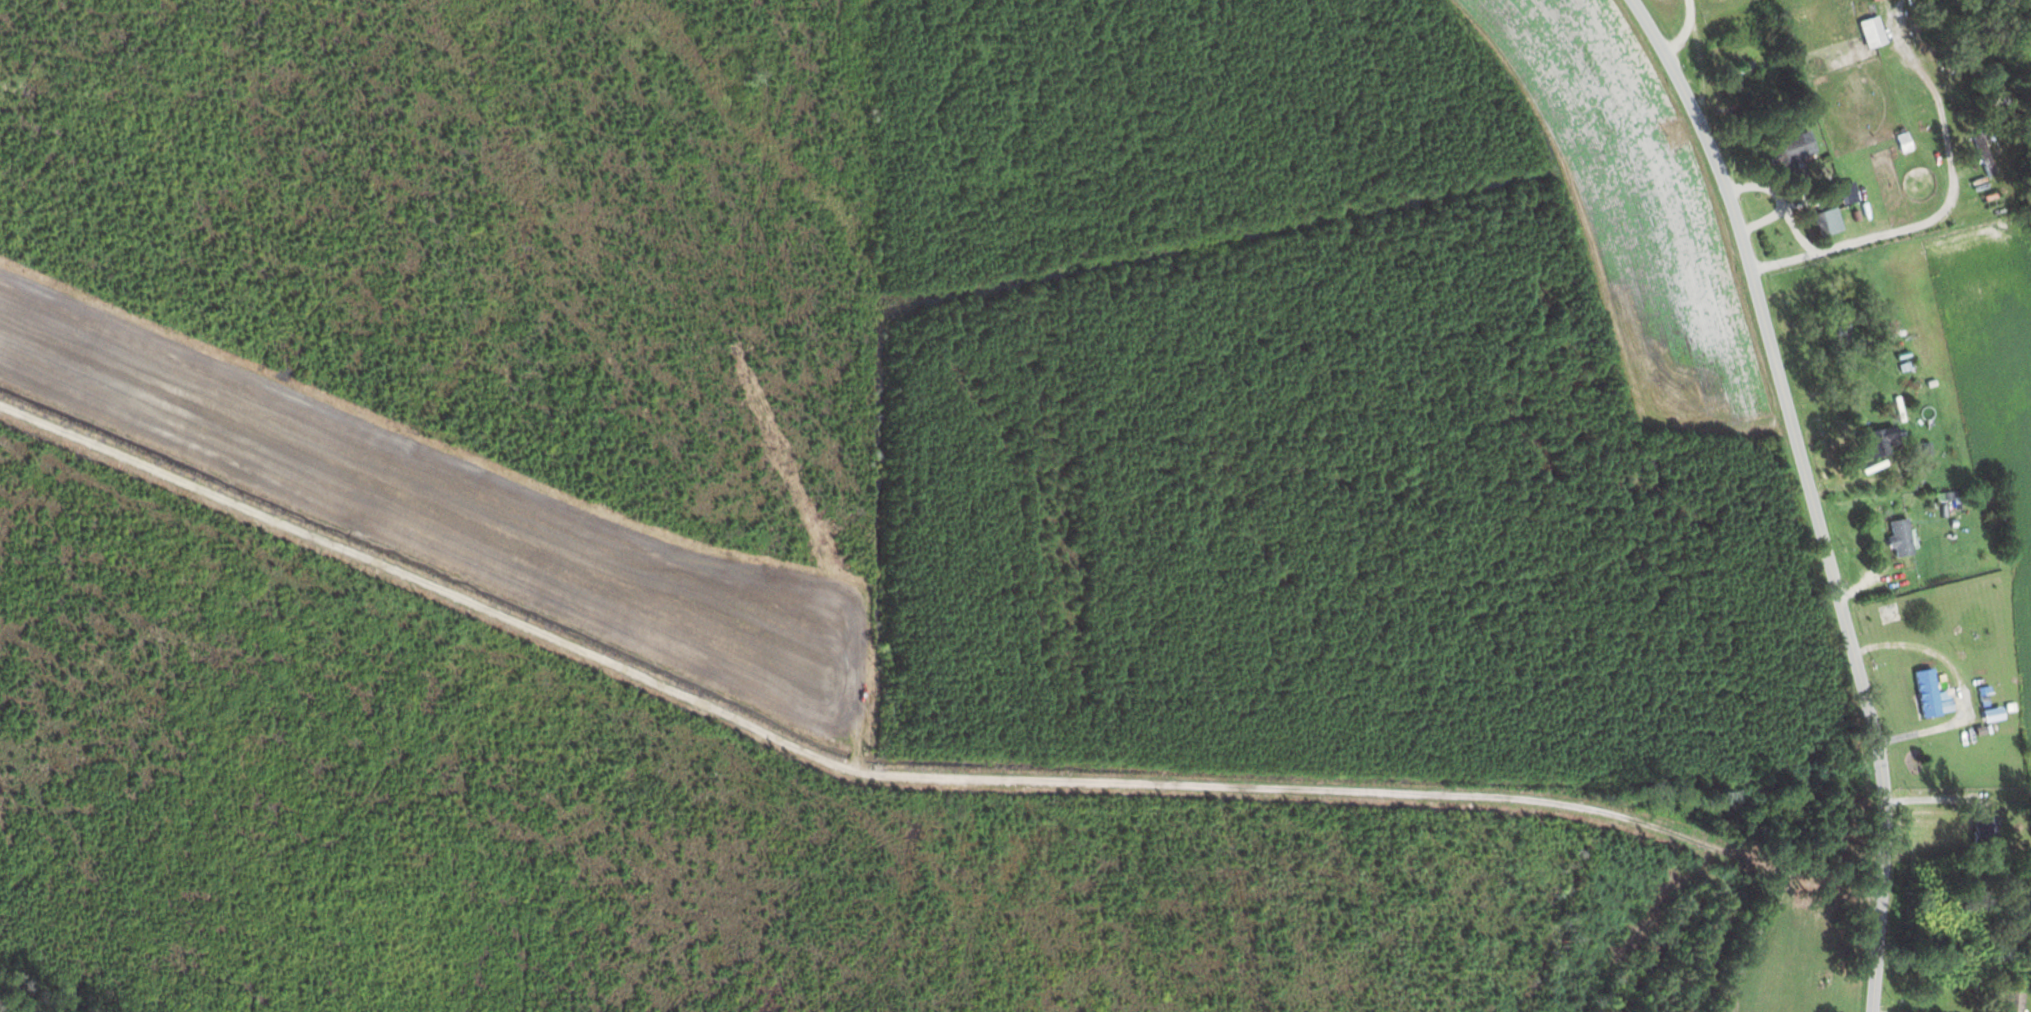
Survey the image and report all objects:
building: (1928, 16)
road: (1682, 32)
building: (1870, 33)
building: (1957, 62)
building: (1739, 76)
building: (1792, 155)
building: (1981, 156)
road: (1947, 208)
building: (1827, 222)
road: (1773, 358)
building: (1876, 443)
building: (1899, 538)
building: (1925, 693)
road: (1879, 790)
building: (1984, 827)
road: (1878, 928)
building: (2008, 1001)

